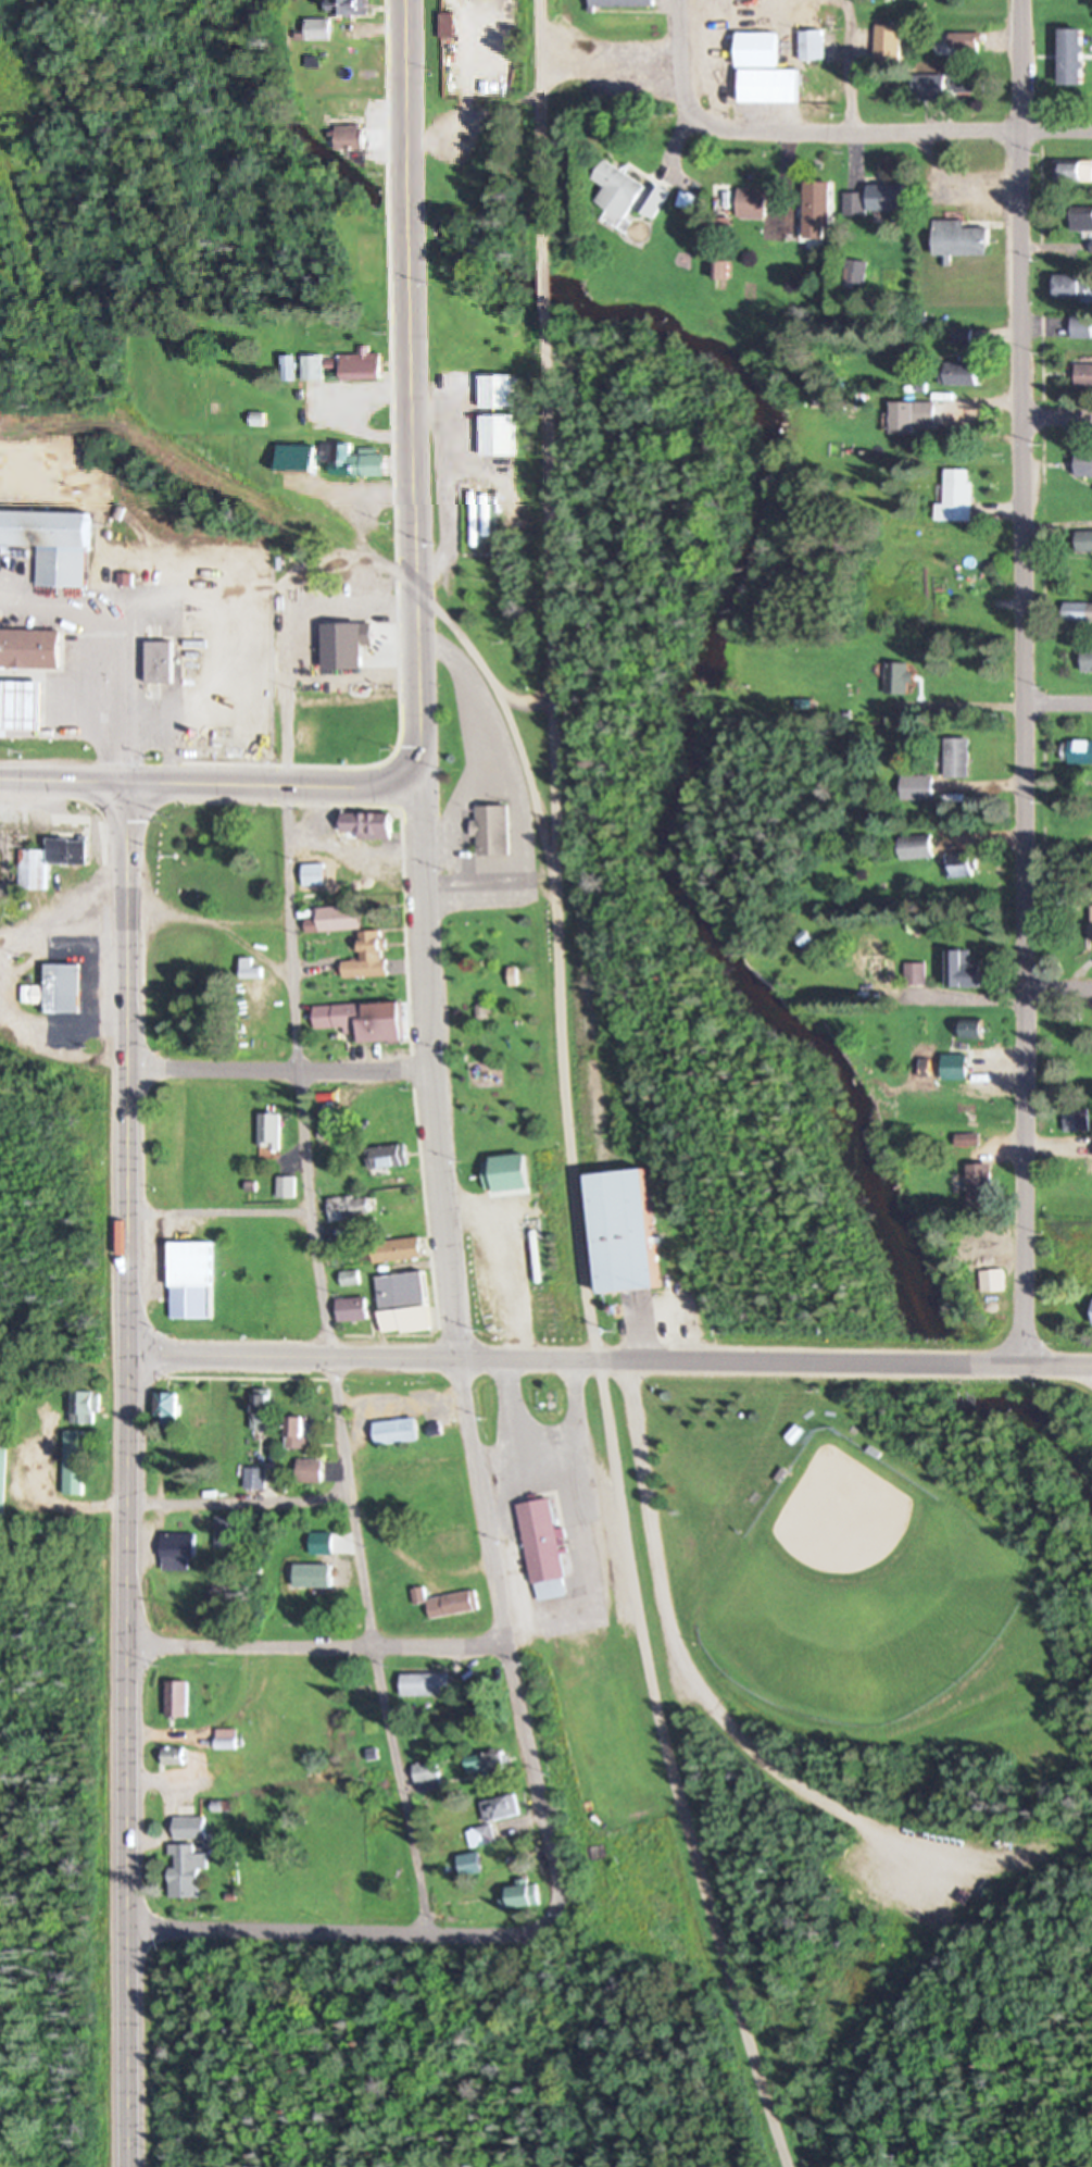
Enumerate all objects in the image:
building: (620, 2)
building: (349, 8)
building: (318, 30)
building: (963, 41)
building: (809, 45)
road: (678, 46)
building: (755, 48)
building: (1069, 57)
road: (846, 65)
building: (968, 80)
building: (767, 84)
building: (927, 86)
river: (274, 116)
road: (541, 125)
road: (877, 132)
building: (350, 138)
building: (1076, 171)
building: (627, 191)
building: (884, 197)
building: (752, 201)
building: (852, 202)
building: (815, 208)
river: (407, 213)
building: (1081, 220)
building: (958, 238)
building: (854, 270)
building: (1066, 285)
road: (544, 297)
road: (60, 304)
building: (1080, 325)
building: (363, 368)
building: (291, 370)
building: (314, 370)
building: (959, 372)
building: (1082, 375)
road: (411, 393)
building: (499, 394)
building: (911, 414)
road: (1055, 416)
building: (500, 437)
building: (356, 463)
building: (1082, 464)
building: (955, 495)
road: (549, 513)
building: (1083, 540)
building: (51, 544)
building: (1077, 610)
road: (449, 621)
building: (29, 647)
building: (1085, 658)
building: (160, 661)
park: (611, 661)
building: (896, 678)
road: (1020, 682)
road: (1056, 701)
building: (22, 705)
gas station: (23, 705)
river: (692, 718)
building: (303, 736)
building: (1077, 751)
building: (956, 758)
road: (62, 780)
road: (272, 783)
building: (916, 787)
road: (554, 805)
building: (365, 824)
building: (490, 829)
building: (915, 847)
building: (50, 860)
park: (487, 863)
building: (961, 865)
building: (313, 875)
road: (63, 914)
building: (335, 919)
building: (1090, 922)
road: (290, 925)
building: (367, 957)
building: (249, 970)
building: (963, 970)
building: (915, 973)
building: (514, 975)
road: (1058, 988)
building: (57, 989)
building: (363, 1020)
building: (971, 1030)
building: (954, 1066)
road: (276, 1067)
building: (972, 1111)
building: (1076, 1118)
building: (386, 1128)
building: (269, 1131)
building: (968, 1138)
building: (388, 1156)
building: (505, 1171)
building: (980, 1179)
building: (286, 1186)
building: (352, 1206)
road: (217, 1208)
building: (624, 1229)
building: (994, 1242)
building: (397, 1248)
building: (351, 1278)
building: (993, 1279)
building: (190, 1280)
building: (405, 1298)
building: (352, 1308)
road: (459, 1356)
road: (610, 1359)
river: (944, 1363)
building: (85, 1406)
building: (165, 1407)
building: (261, 1415)
river: (1044, 1416)
building: (397, 1430)
building: (298, 1432)
building: (75, 1461)
building: (310, 1470)
building: (3, 1473)
road: (129, 1474)
building: (255, 1478)
road: (351, 1502)
road: (91, 1504)
road: (239, 1505)
building: (226, 1531)
building: (545, 1548)
building: (178, 1550)
road: (629, 1555)
park: (867, 1566)
building: (318, 1573)
building: (450, 1602)
road: (318, 1643)
building: (426, 1683)
building: (178, 1697)
road: (725, 1710)
building: (227, 1738)
building: (175, 1754)
building: (427, 1770)
building: (501, 1805)
building: (190, 1827)
building: (482, 1833)
building: (346, 1844)
building: (472, 1861)
building: (185, 1869)
building: (525, 1894)
road: (342, 1931)

